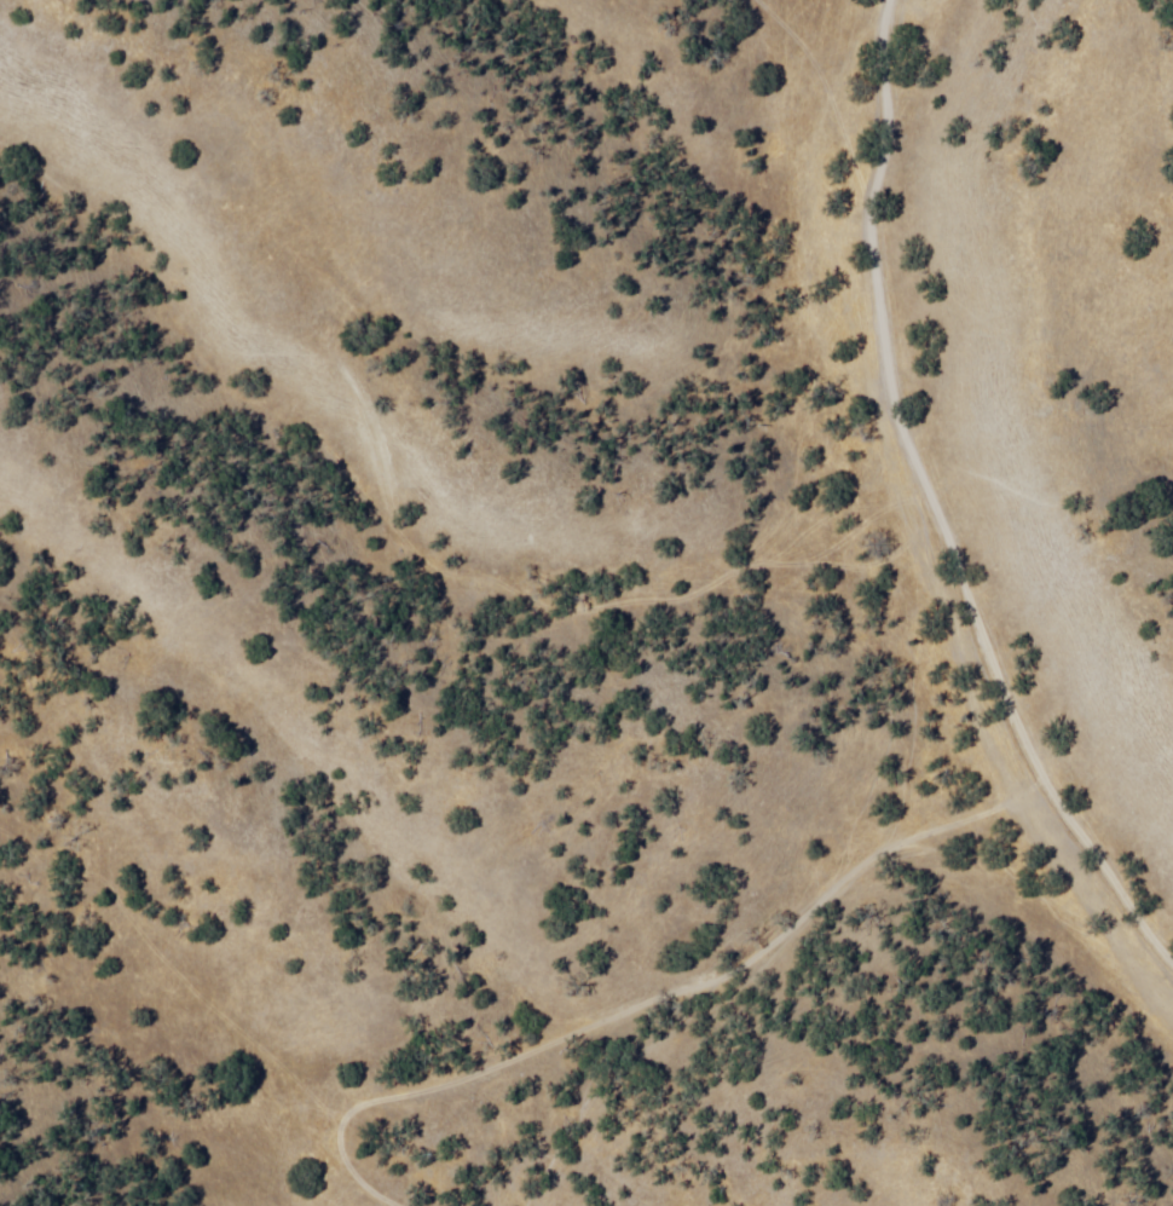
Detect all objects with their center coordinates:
road: (940, 489)

